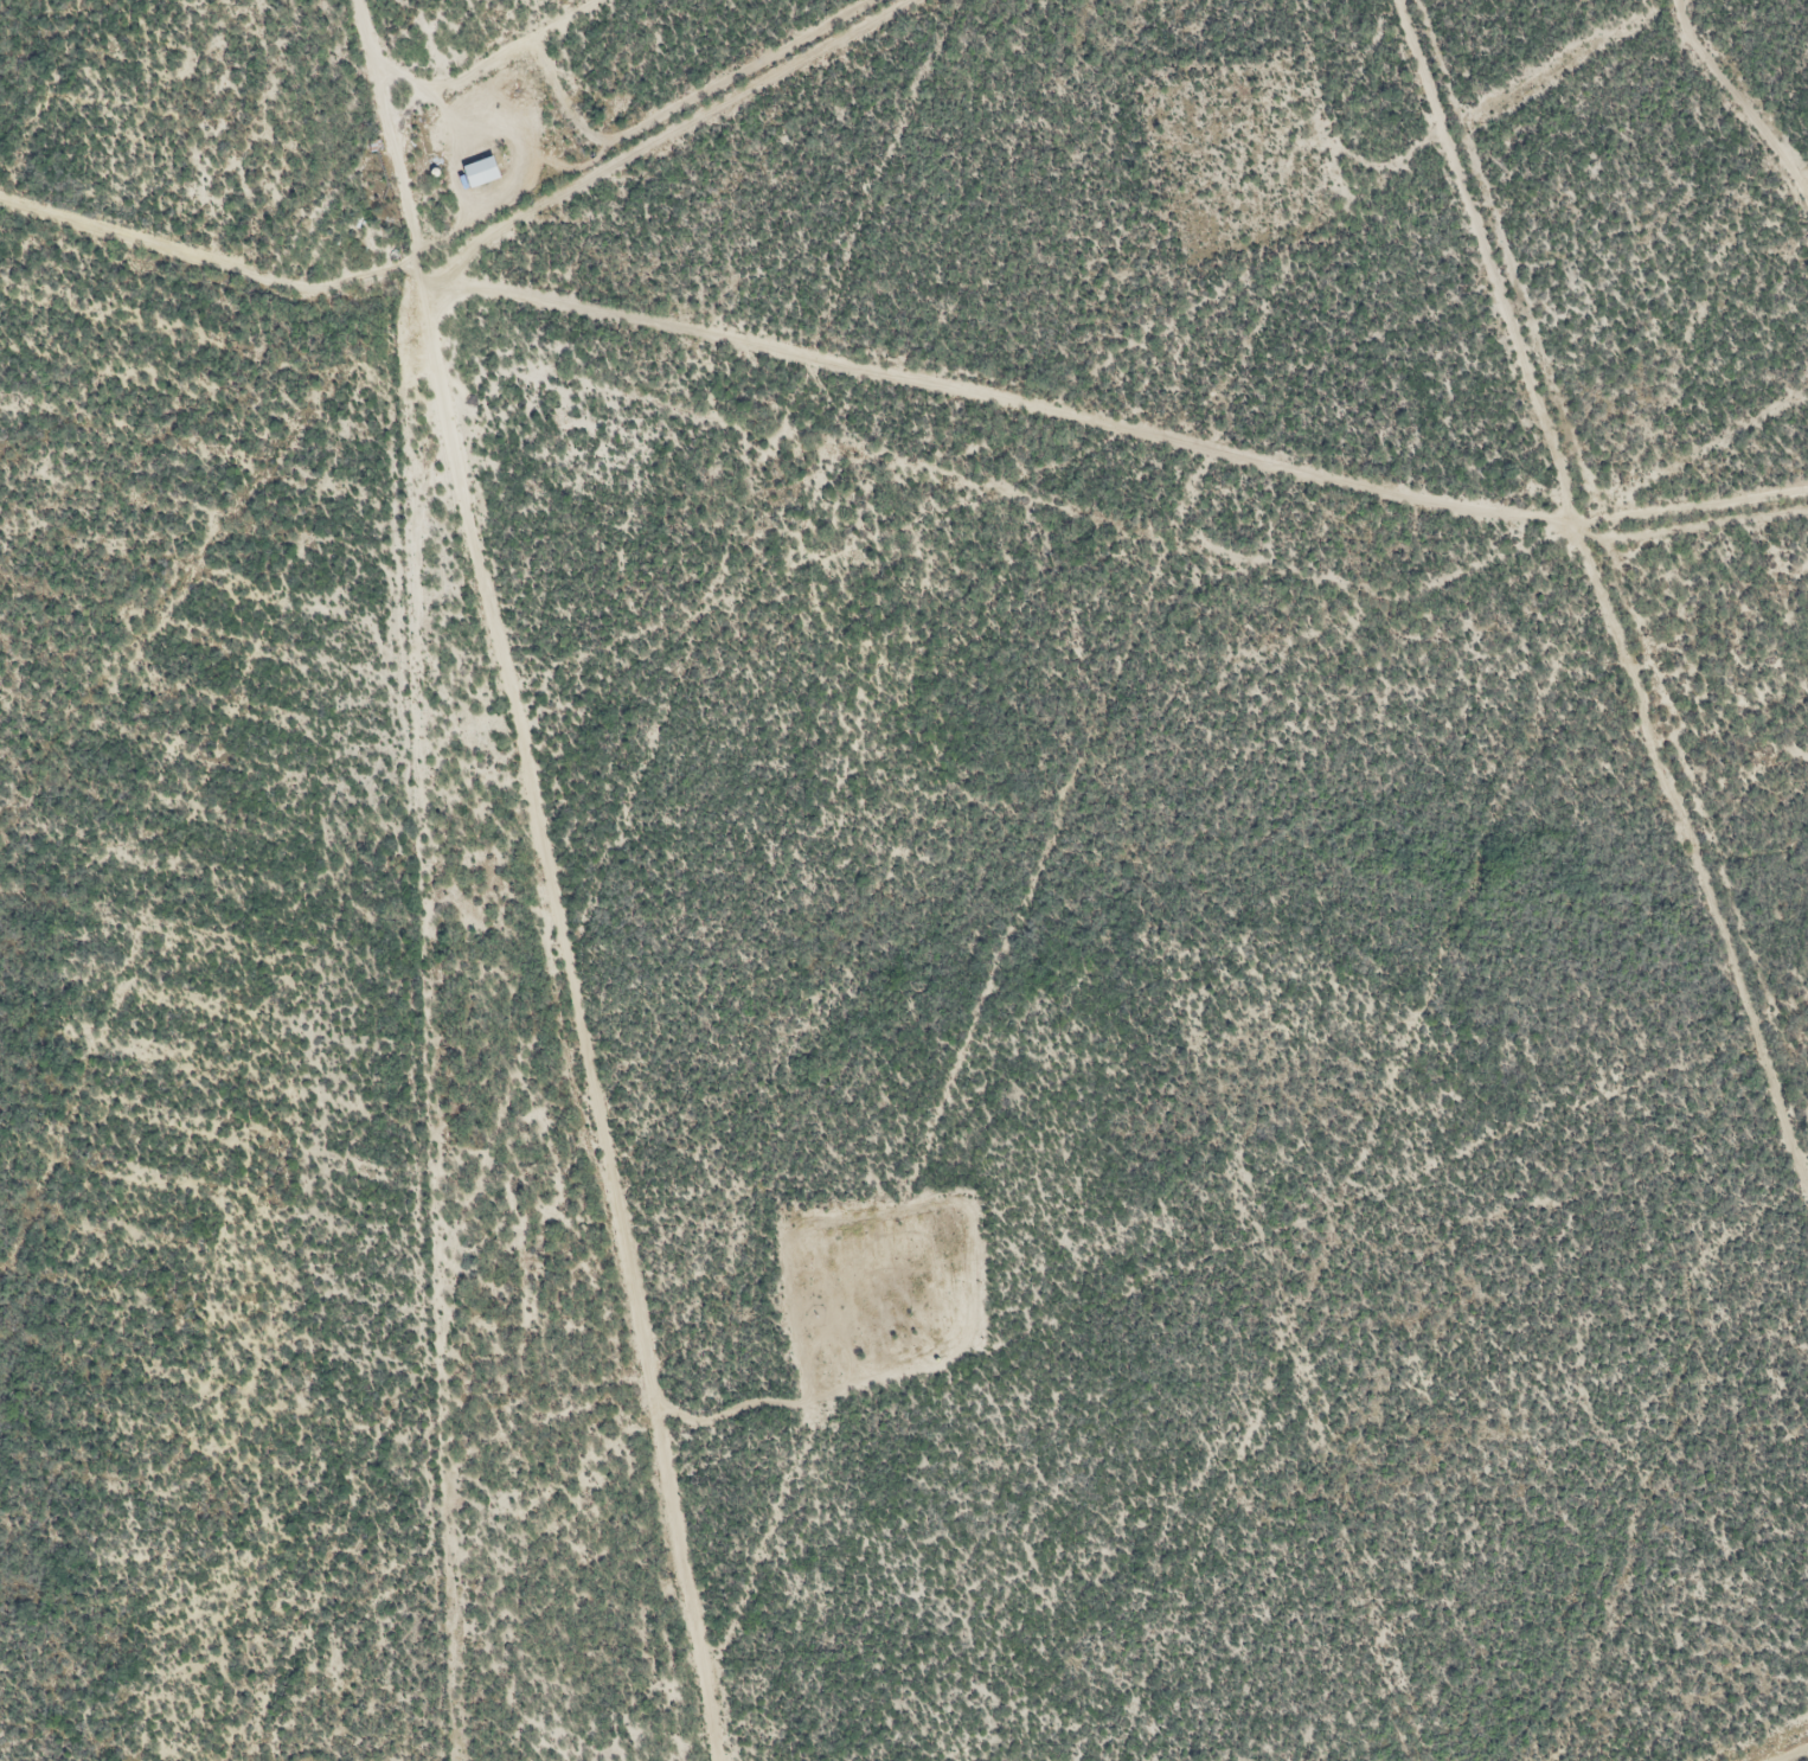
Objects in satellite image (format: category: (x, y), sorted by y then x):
building: (487, 173)

